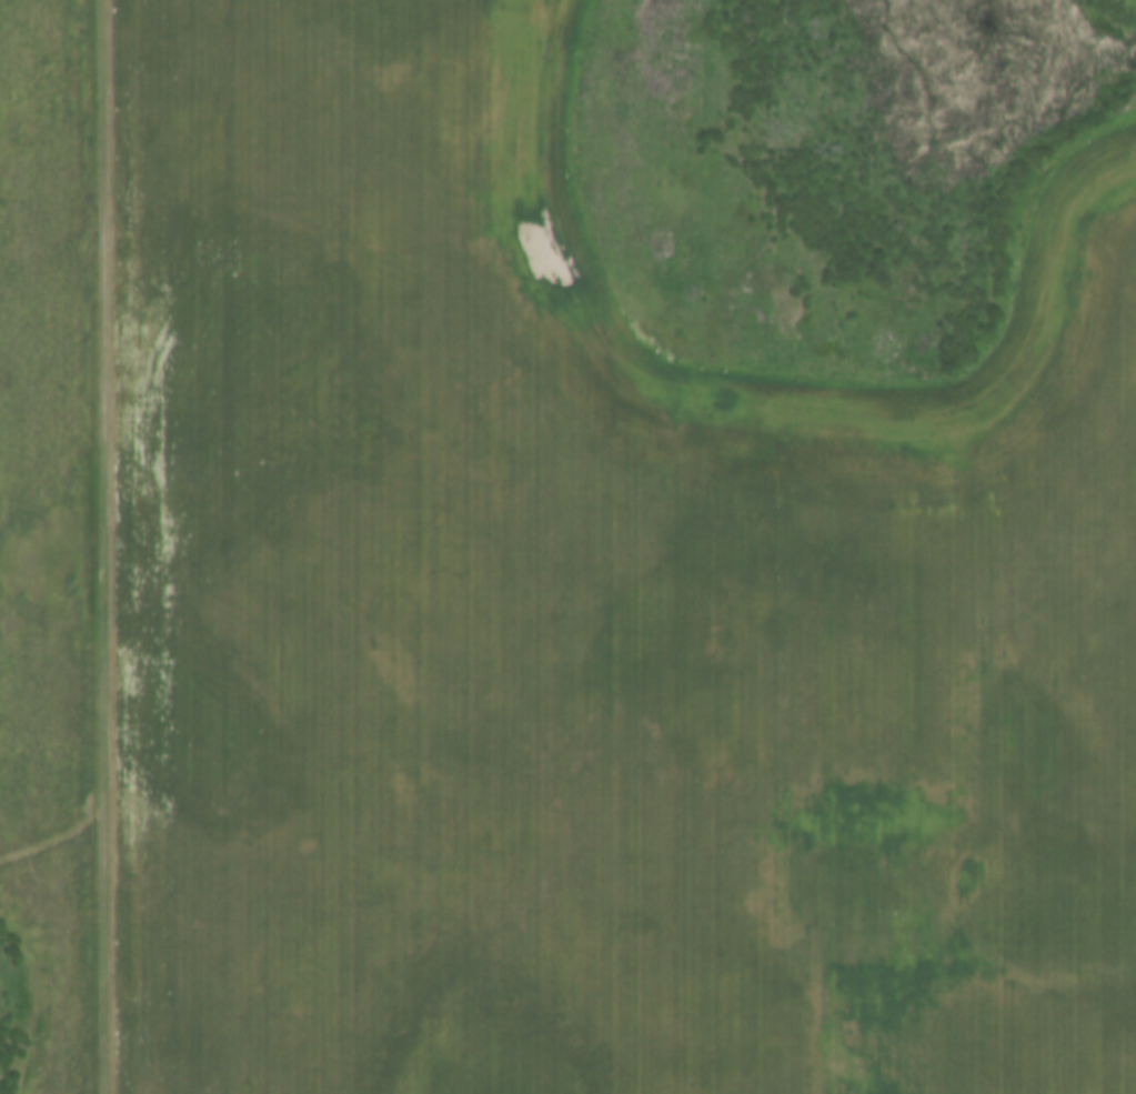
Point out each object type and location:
road: (99, 546)

